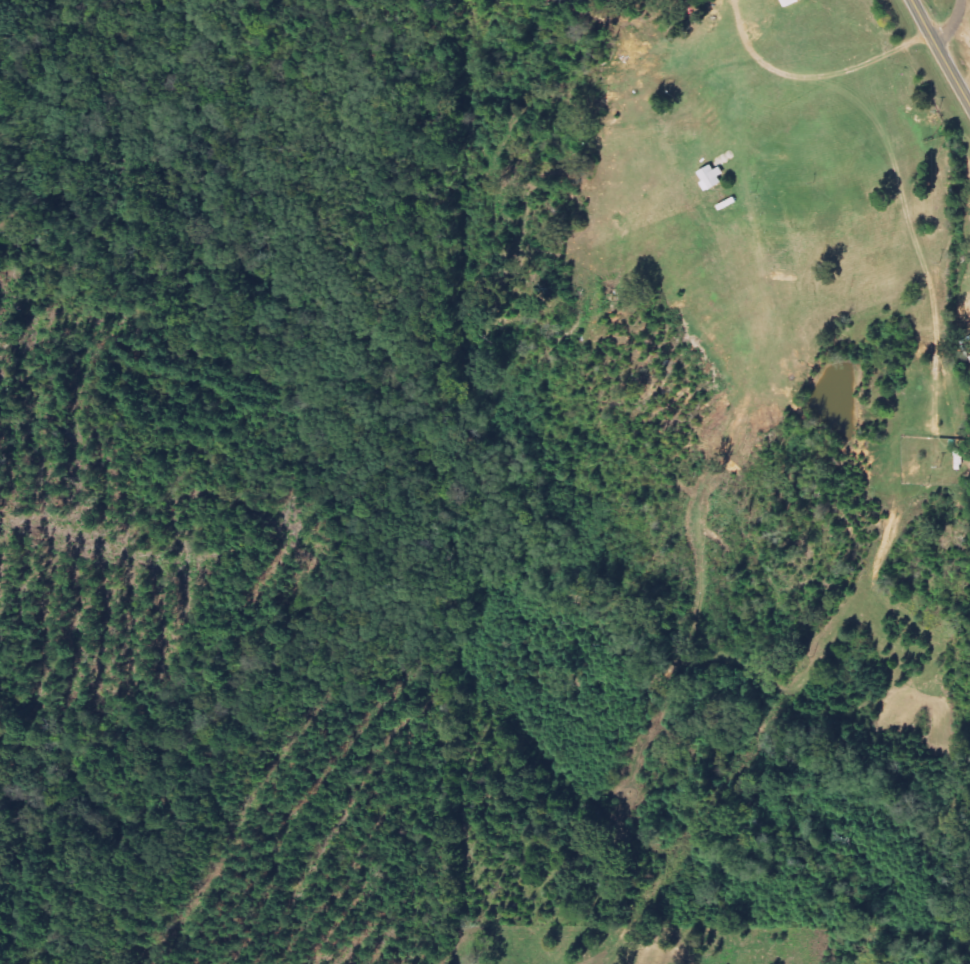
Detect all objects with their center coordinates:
building: (790, 2)
road: (938, 22)
road: (942, 48)
building: (714, 177)
road: (955, 183)

